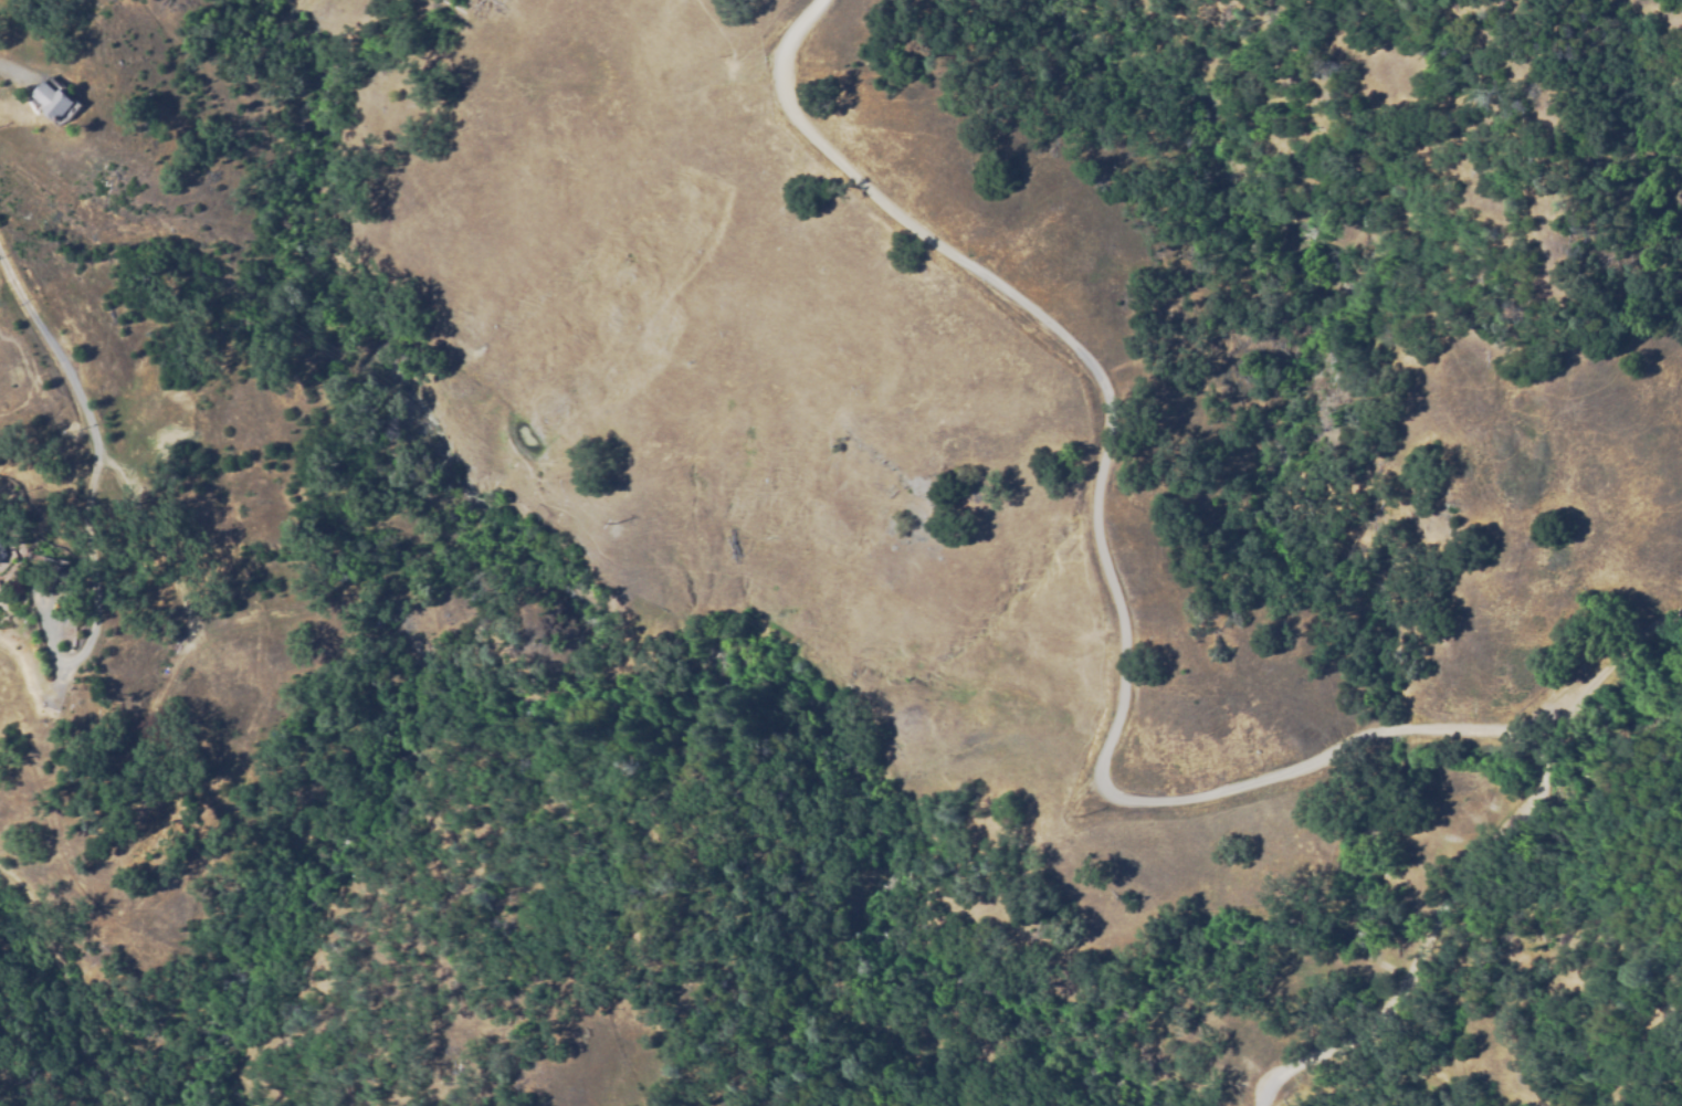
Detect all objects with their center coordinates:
building: (56, 101)
road: (94, 461)
road: (1106, 536)
building: (2, 549)
building: (54, 578)
building: (0, 590)
road: (1457, 842)

